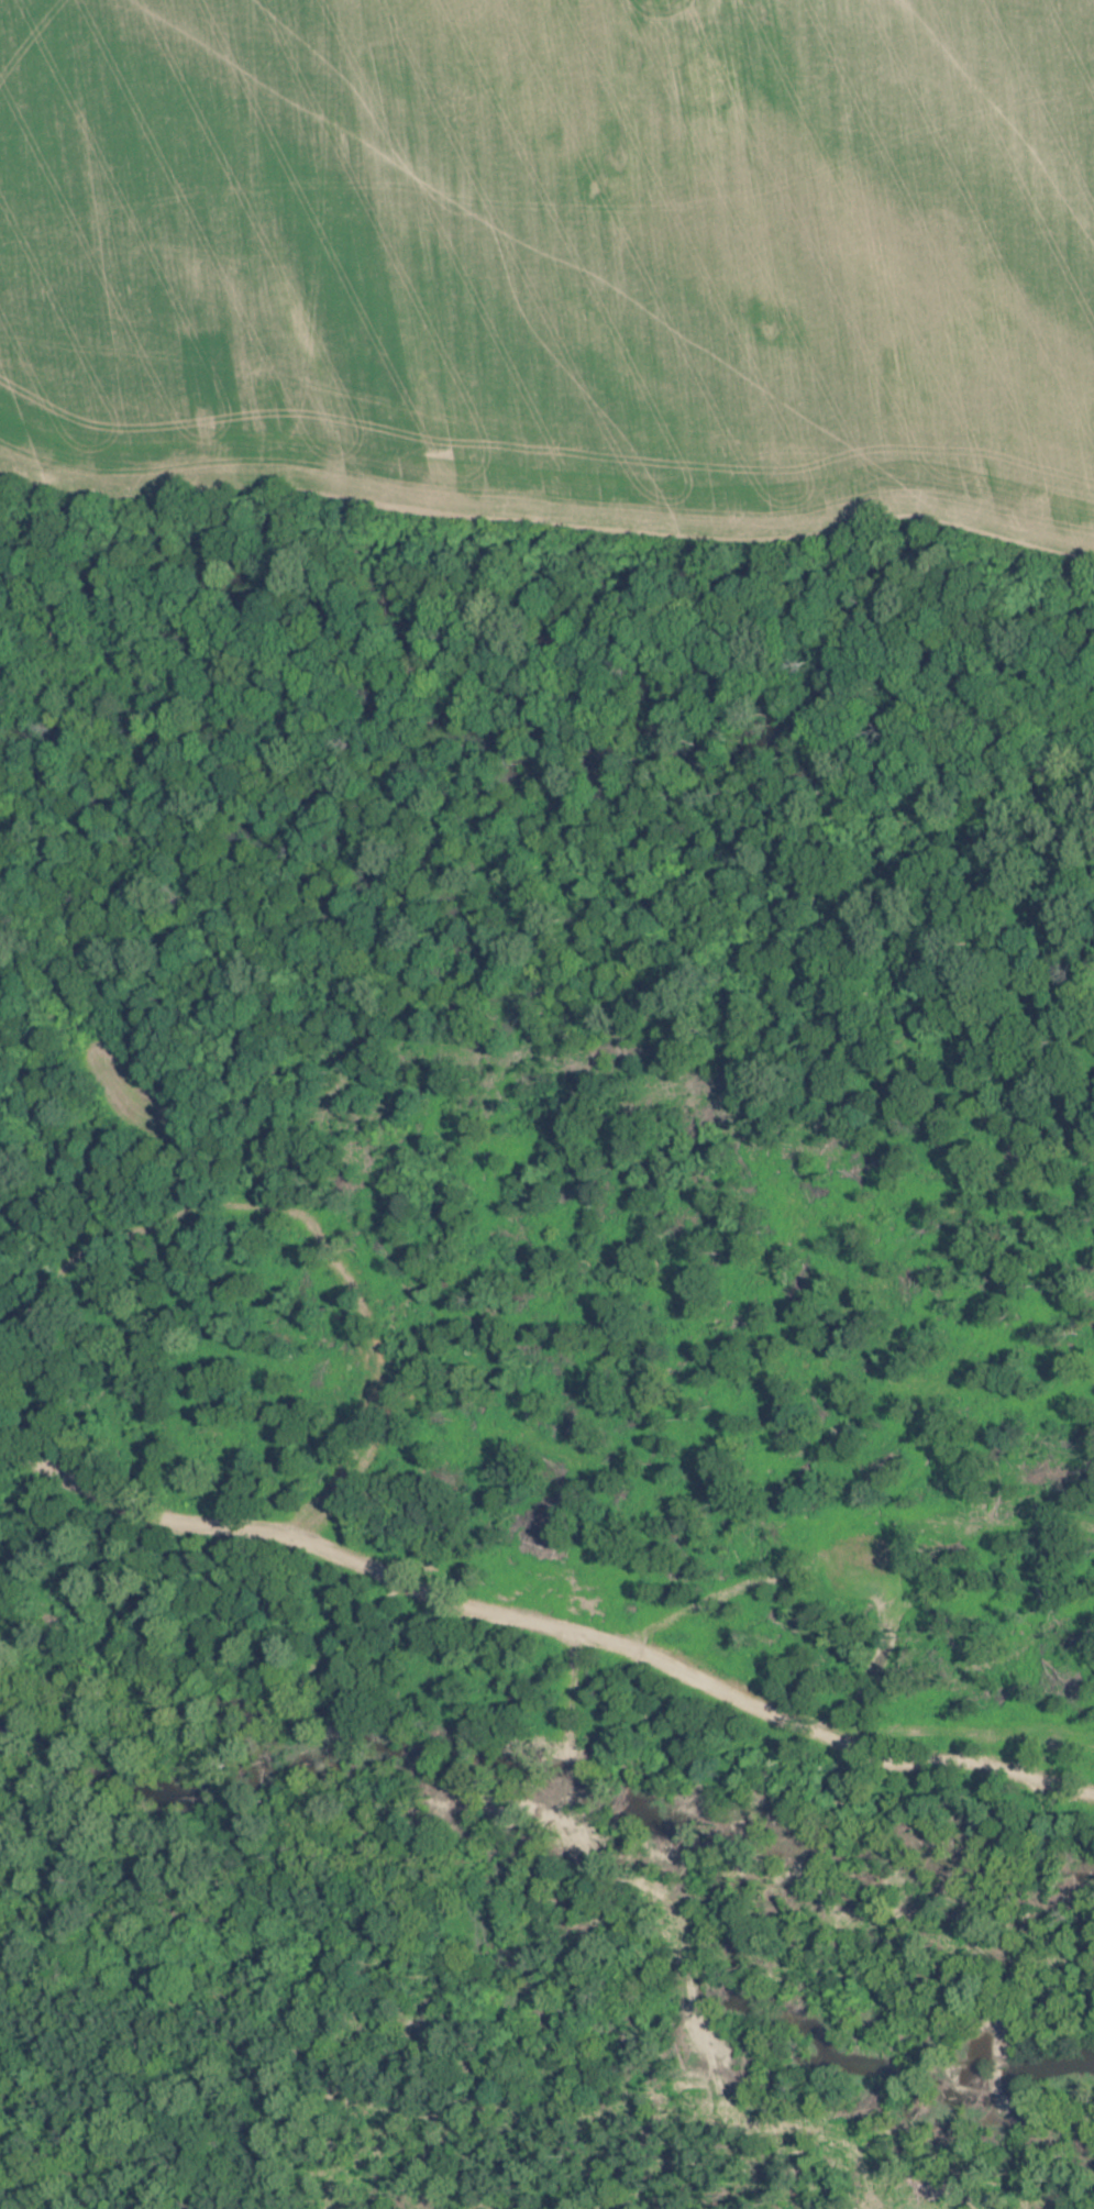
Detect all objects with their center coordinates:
road: (545, 482)

